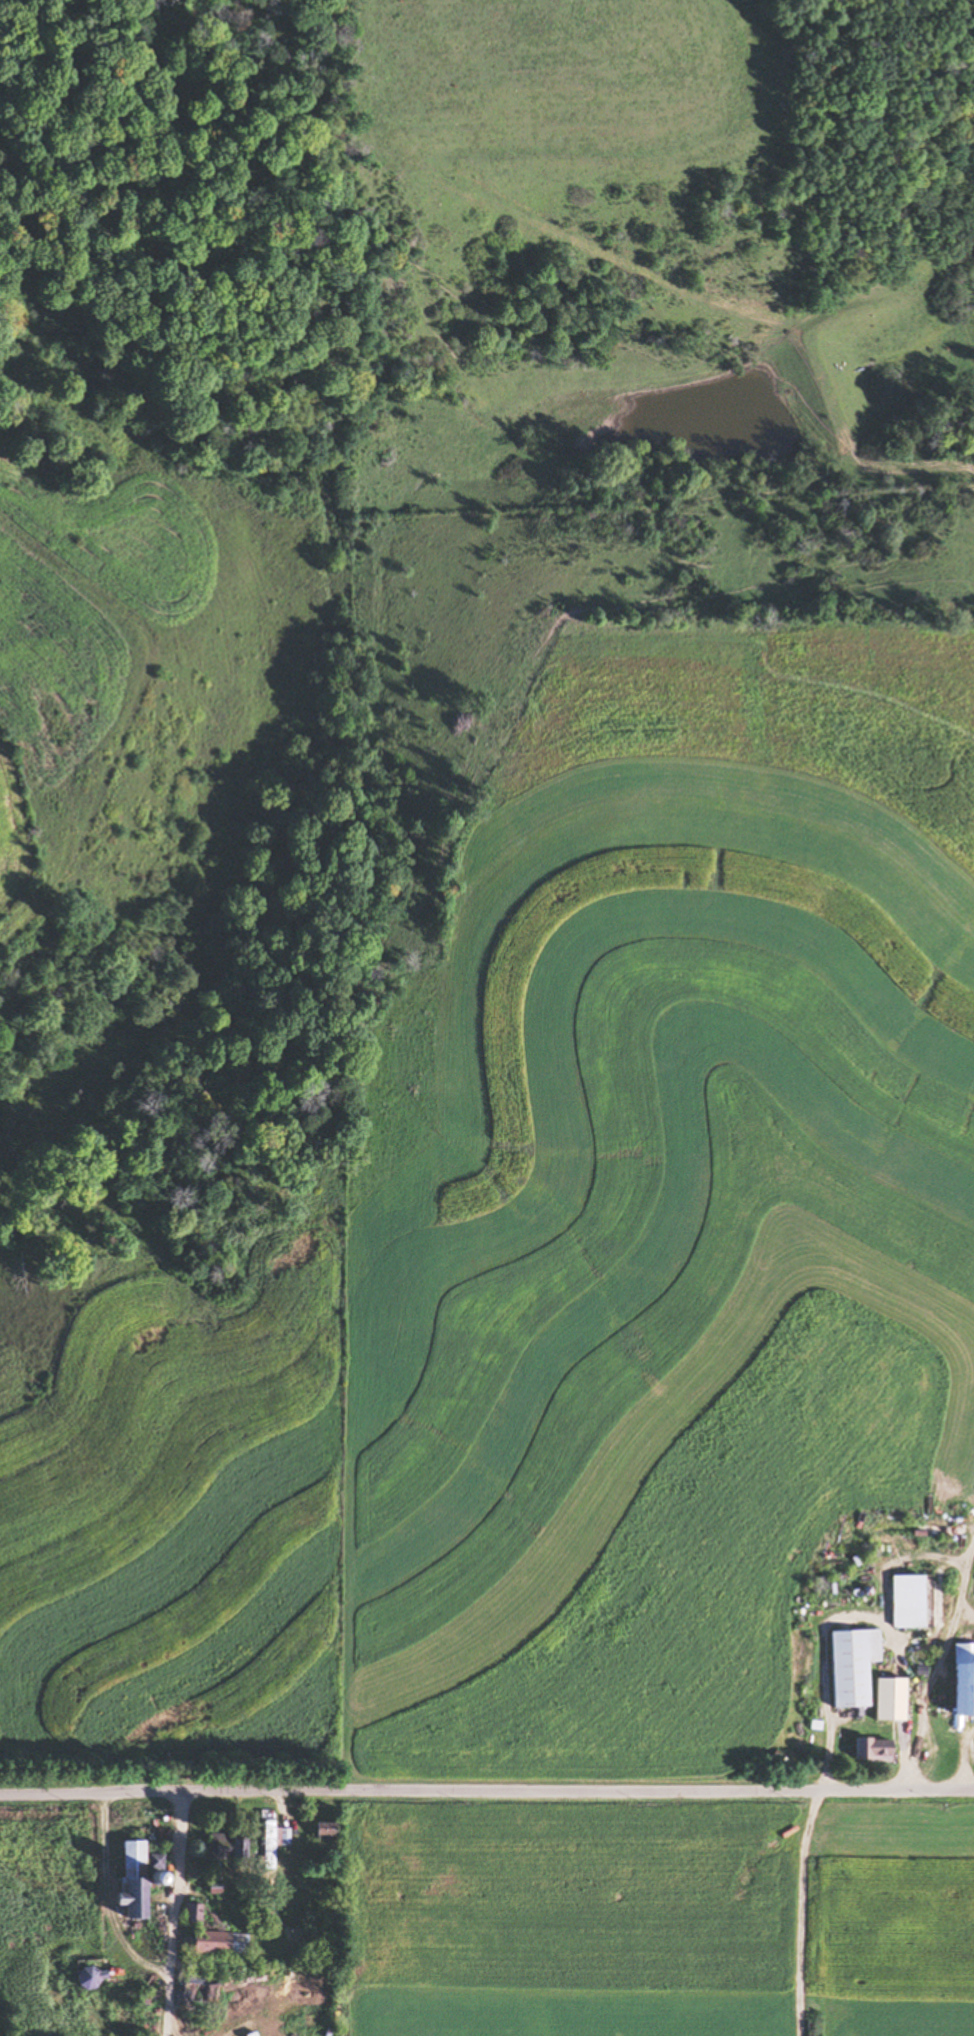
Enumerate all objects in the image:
crop: (571, 91)
crop: (762, 711)
crop: (10, 833)
crop: (645, 1272)
crop: (180, 1520)
building: (903, 1601)
building: (848, 1665)
building: (961, 1679)
building: (885, 1698)
building: (869, 1749)
road: (486, 1788)
building: (321, 1831)
building: (271, 1842)
building: (224, 1845)
crop: (47, 1874)
building: (129, 1881)
road: (176, 1910)
building: (191, 1911)
crop: (884, 1912)
crop: (574, 1920)
building: (217, 1942)
building: (86, 1977)
building: (194, 1994)

